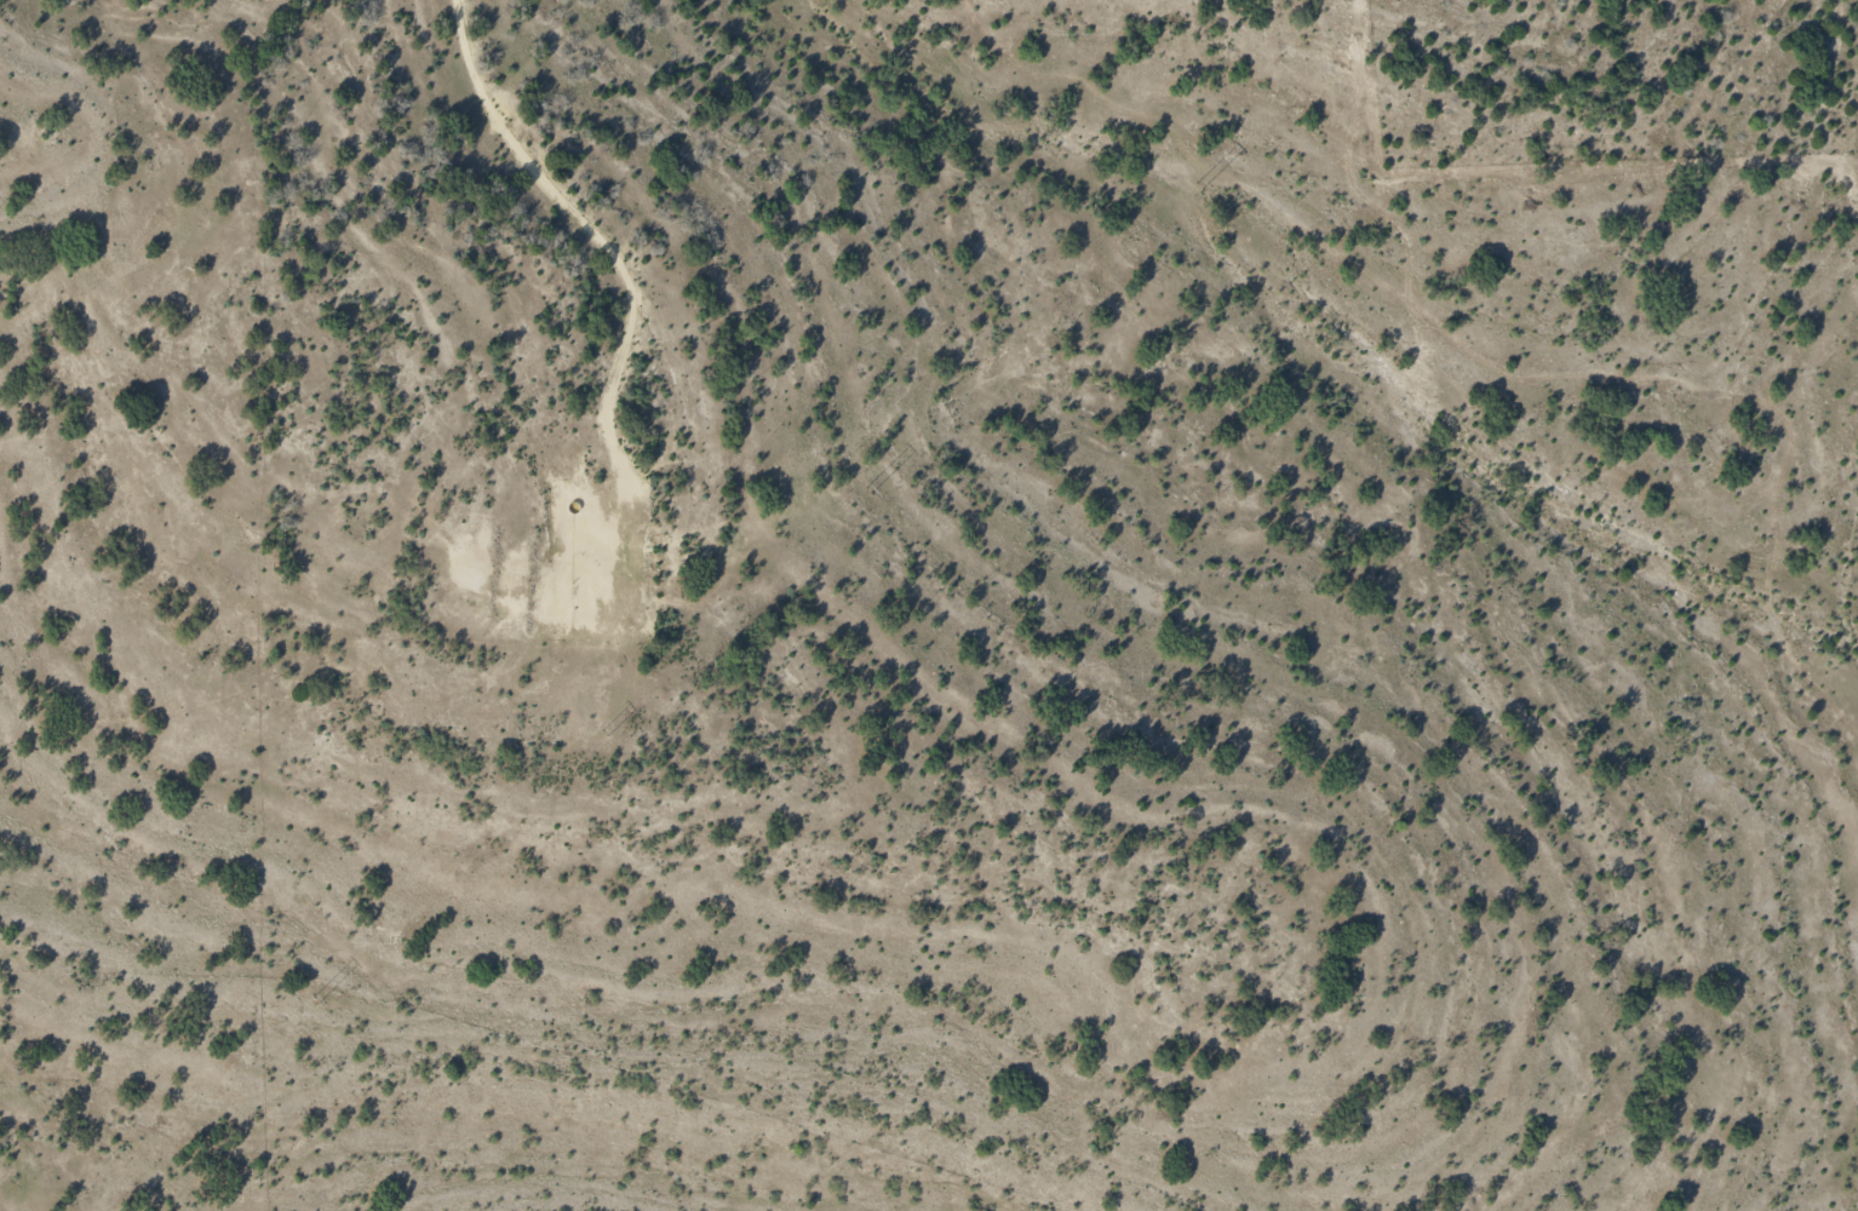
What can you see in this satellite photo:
power tower: (1168, 190)
road: (602, 256)
power tower: (866, 492)
power tower: (604, 735)
power tower: (312, 1000)

